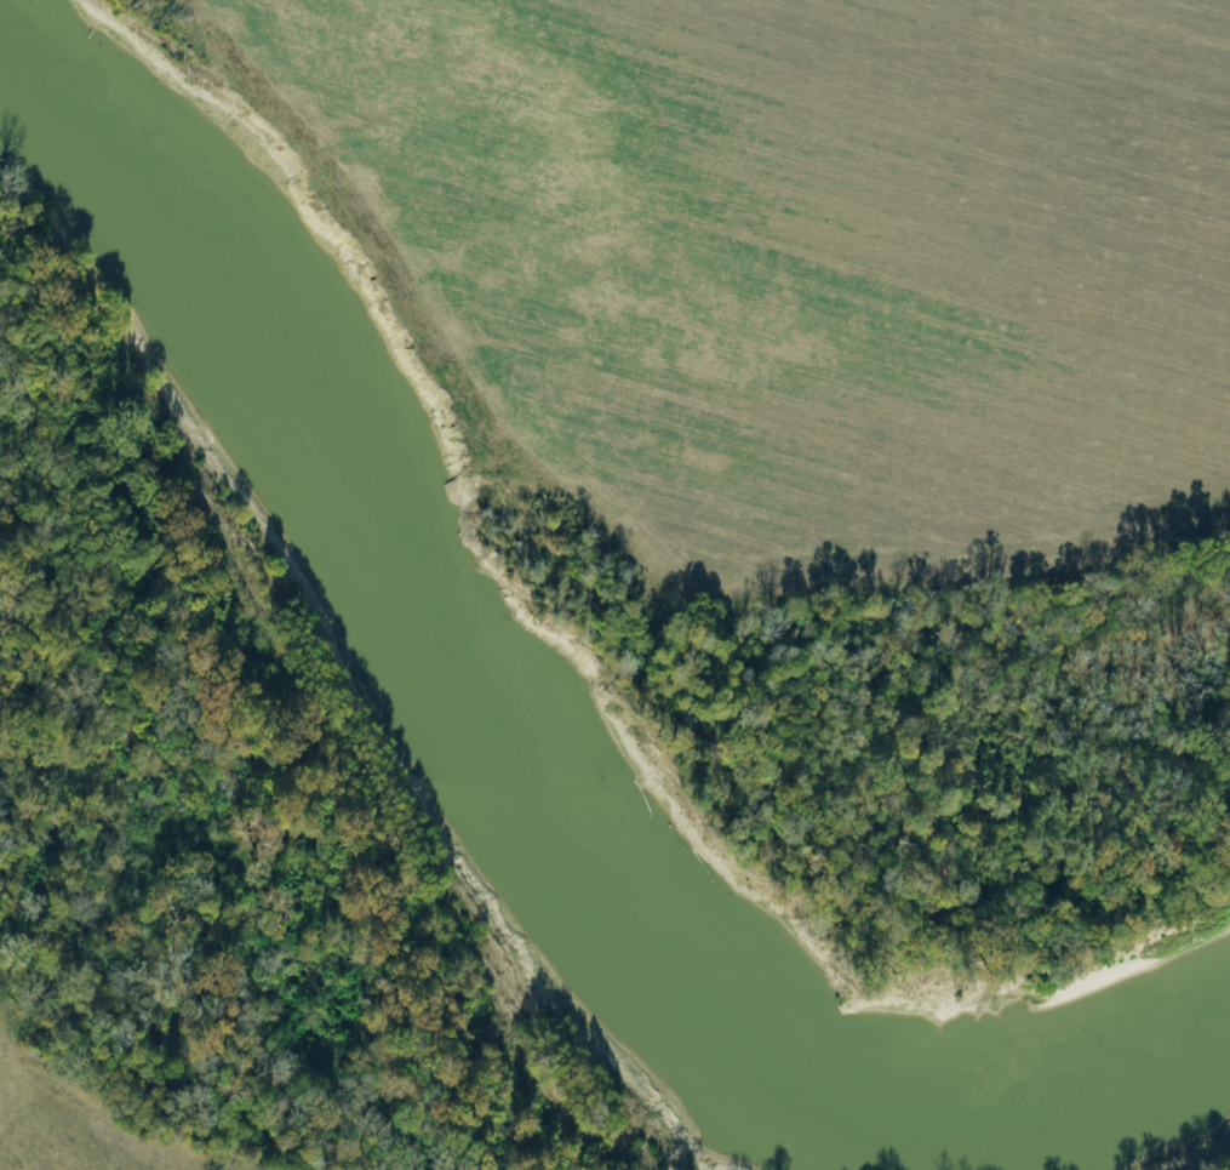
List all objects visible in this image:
river: (481, 816)

